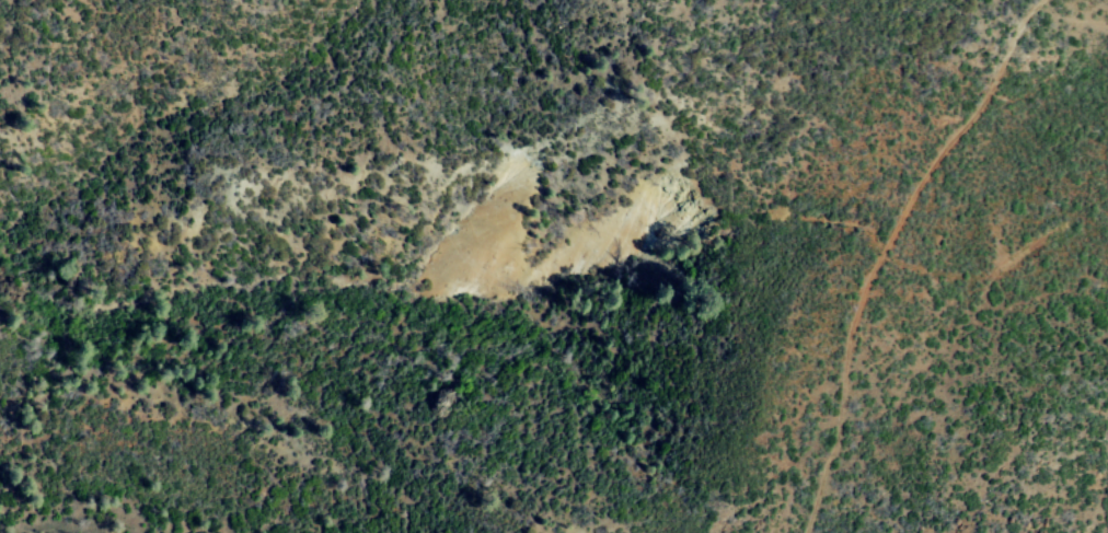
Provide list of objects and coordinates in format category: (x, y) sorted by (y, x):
road: (885, 248)

